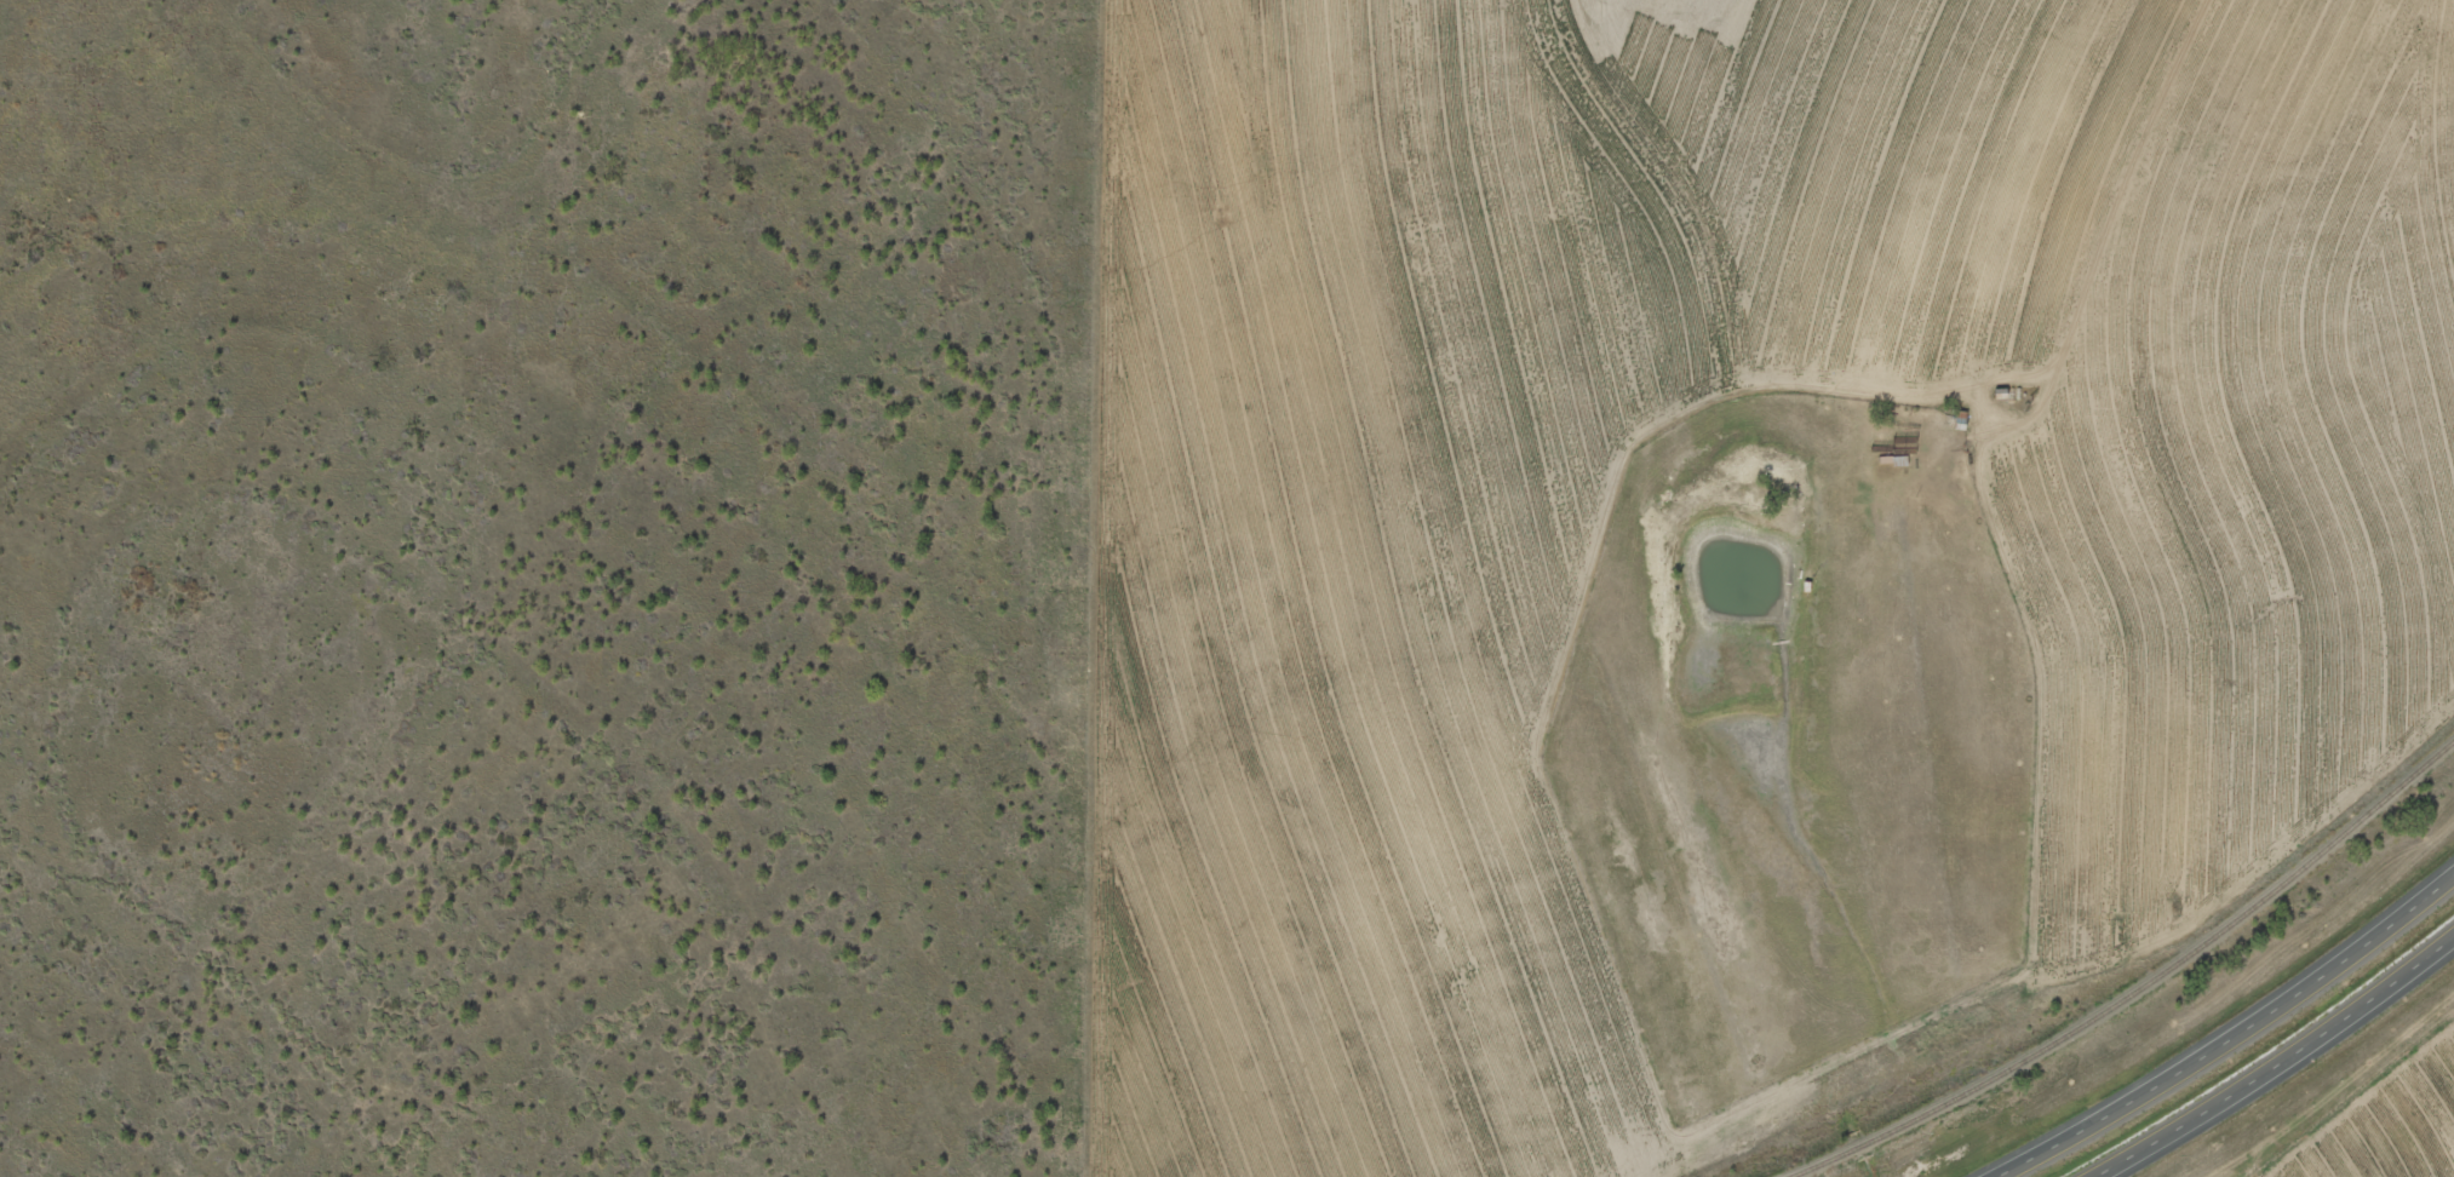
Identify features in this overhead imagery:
railway: (2138, 989)
road: (2229, 1037)
road: (2280, 1063)
road: (2334, 1090)

